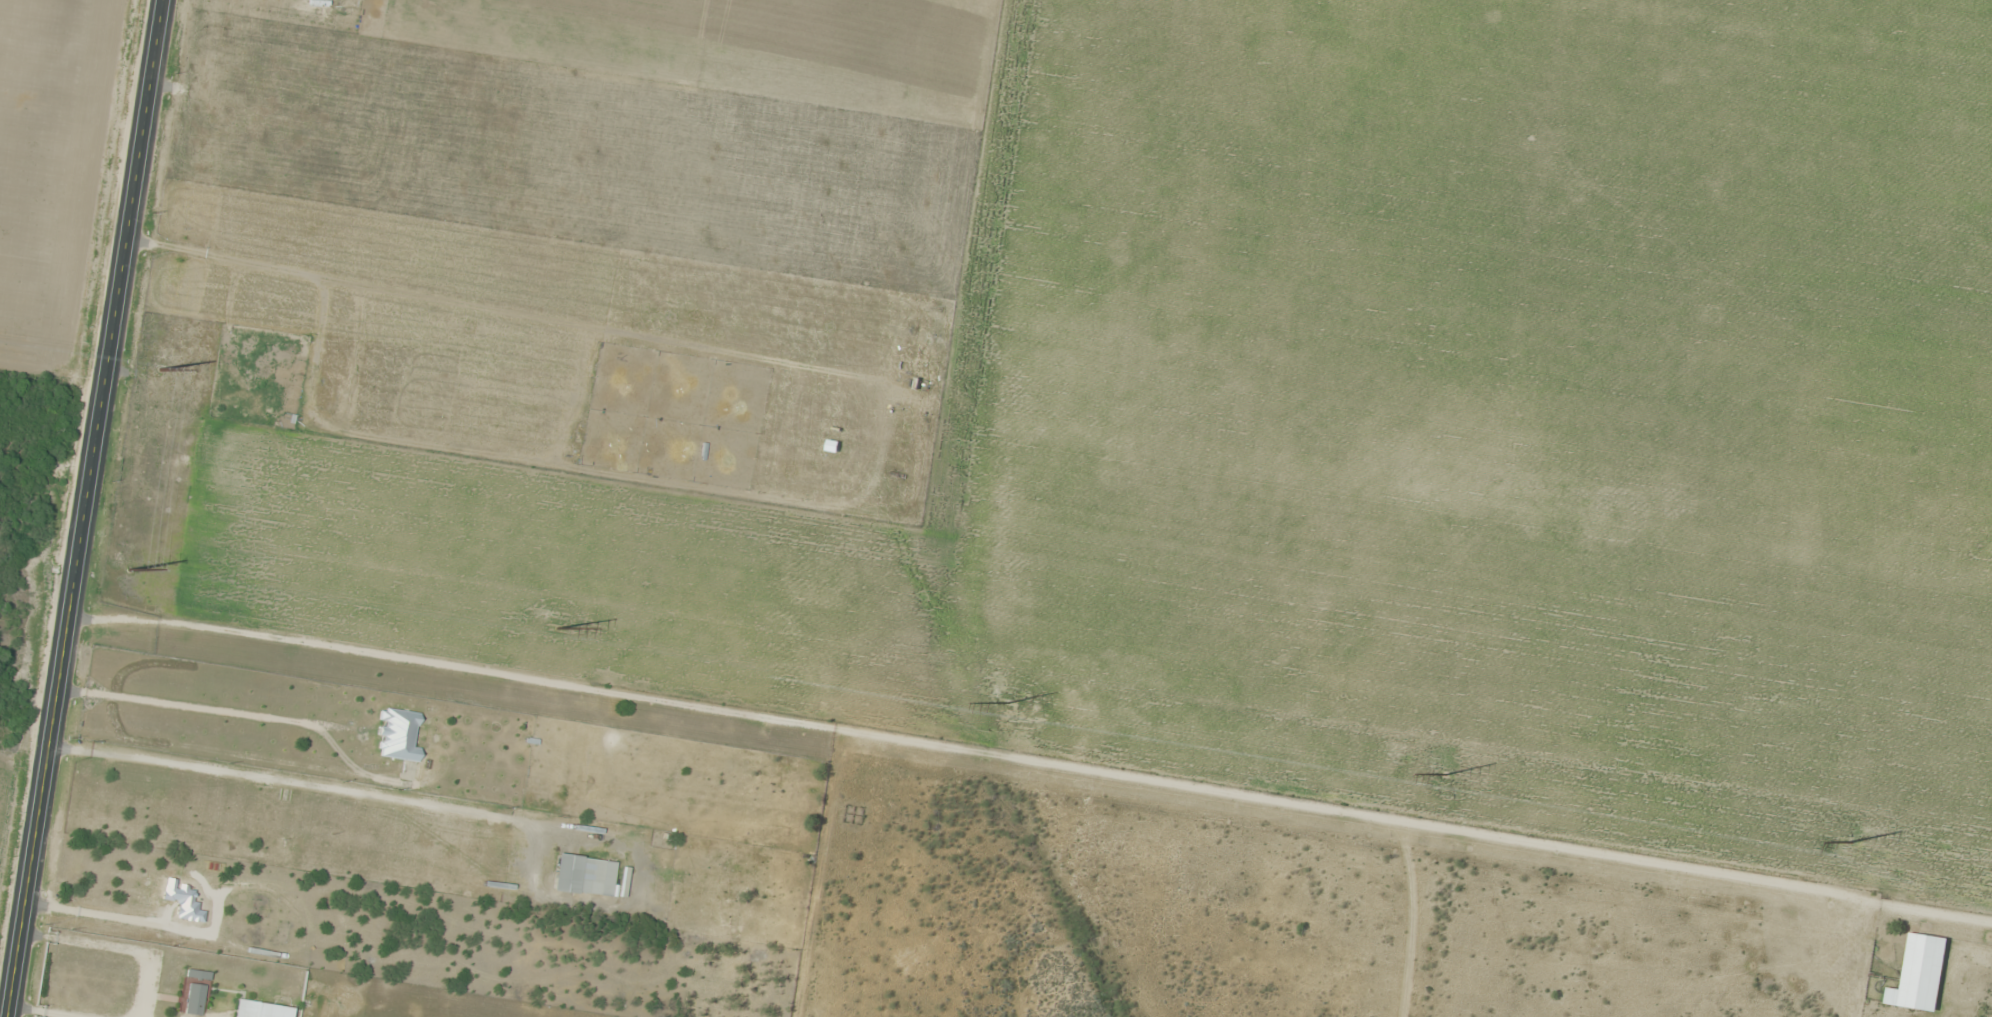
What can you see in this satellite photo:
power tower: (161, 368)
road: (1502, 414)
road: (84, 508)
power tower: (130, 568)
power tower: (559, 627)
power tower: (1009, 702)
building: (397, 734)
road: (1034, 769)
power tower: (1445, 775)
building: (852, 815)
power tower: (1849, 840)
building: (583, 875)
building: (729, 919)
building: (197, 974)
building: (192, 999)
building: (260, 1009)

